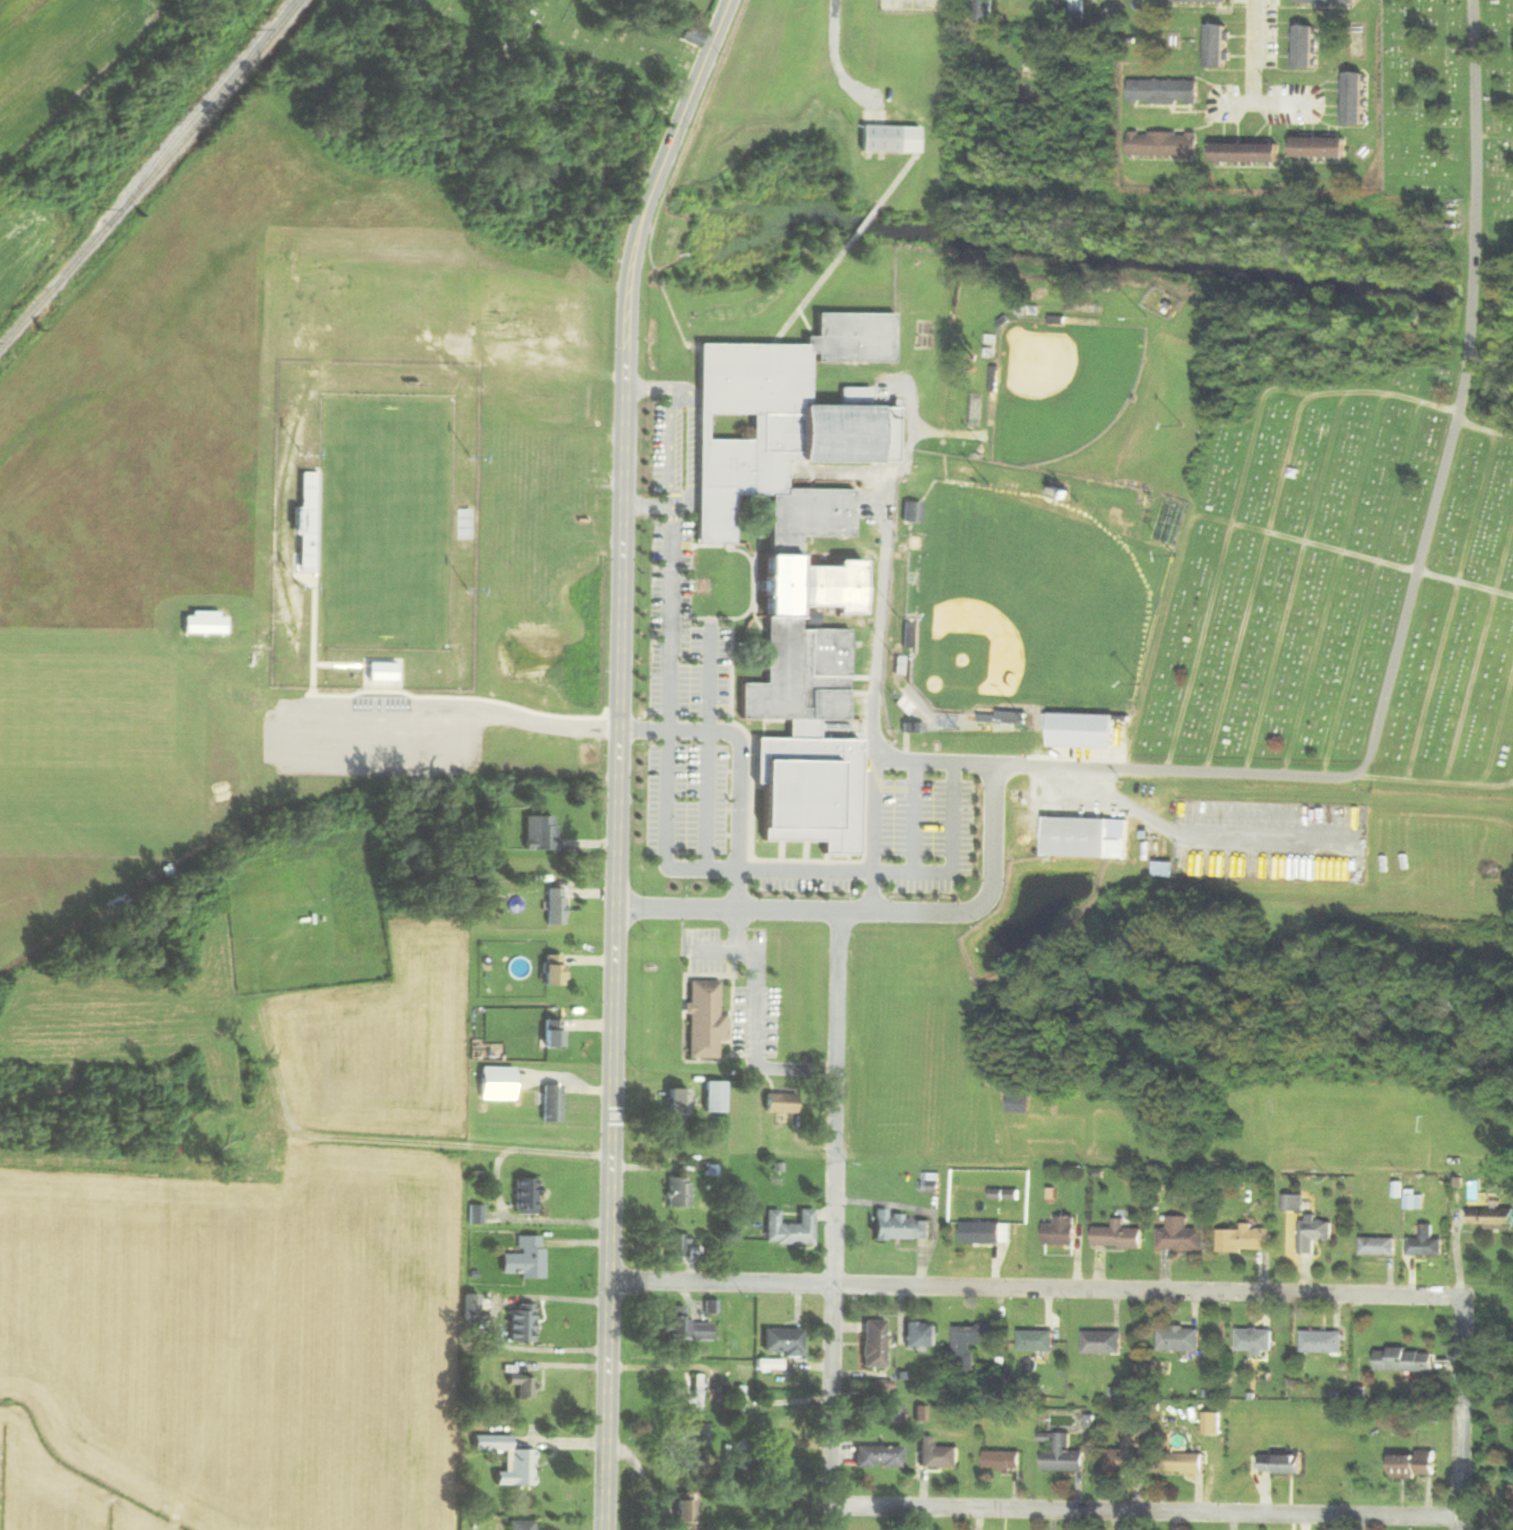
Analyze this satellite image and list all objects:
building: (1206, 0)
building: (1330, 1)
building: (1057, 2)
building: (1143, 4)
building: (1018, 5)
building: (986, 10)
building: (1079, 10)
power tower: (249, 28)
building: (691, 36)
building: (1219, 45)
building: (1308, 46)
road: (1253, 55)
building: (1166, 91)
railway: (209, 97)
building: (1357, 99)
road: (1262, 109)
building: (891, 138)
building: (1165, 144)
building: (1323, 147)
building: (1249, 153)
railway: (151, 175)
power tower: (100, 208)
road: (638, 246)
park: (1062, 386)
road: (649, 387)
road: (1464, 393)
road: (671, 446)
building: (1057, 502)
building: (913, 512)
building: (307, 521)
park: (384, 522)
building: (462, 523)
stadium: (376, 525)
building: (796, 556)
park: (1343, 583)
road: (670, 594)
park: (1027, 606)
building: (203, 623)
road: (314, 629)
road: (340, 664)
building: (382, 671)
road: (876, 674)
road: (399, 684)
road: (463, 698)
road: (451, 712)
building: (1081, 730)
parking lot: (379, 735)
road: (707, 746)
road: (939, 760)
road: (739, 763)
road: (914, 816)
road: (665, 832)
building: (541, 833)
building: (1088, 838)
road: (995, 843)
road: (953, 857)
road: (824, 871)
building: (556, 907)
building: (553, 970)
building: (493, 1014)
road: (612, 1019)
building: (706, 1019)
road: (753, 1023)
building: (553, 1034)
building: (782, 1103)
building: (553, 1104)
building: (679, 1105)
building: (933, 1183)
building: (679, 1193)
building: (527, 1197)
building: (1415, 1203)
building: (1295, 1204)
building: (476, 1215)
road: (833, 1219)
building: (1493, 1220)
building: (902, 1228)
building: (791, 1230)
building: (1062, 1233)
building: (984, 1234)
building: (1316, 1234)
building: (1120, 1237)
building: (1182, 1237)
building: (1247, 1240)
building: (1428, 1244)
building: (1380, 1247)
building: (678, 1249)
building: (526, 1260)
road: (1034, 1289)
building: (473, 1309)
building: (523, 1321)
building: (686, 1326)
building: (922, 1334)
building: (1181, 1339)
building: (1038, 1340)
building: (784, 1341)
building: (1256, 1341)
building: (1104, 1342)
building: (1323, 1342)
building: (875, 1343)
building: (972, 1343)
building: (1407, 1360)
building: (771, 1365)
building: (524, 1386)
building: (698, 1392)
building: (738, 1405)
building: (890, 1413)
road: (1458, 1415)
building: (1213, 1423)
building: (701, 1433)
building: (1131, 1452)
building: (939, 1454)
building: (880, 1456)
building: (1065, 1456)
building: (743, 1457)
building: (511, 1460)
building: (1005, 1460)
building: (1188, 1463)
building: (1284, 1463)
building: (1414, 1464)
building: (688, 1511)
road: (1145, 1513)
building: (522, 1525)

